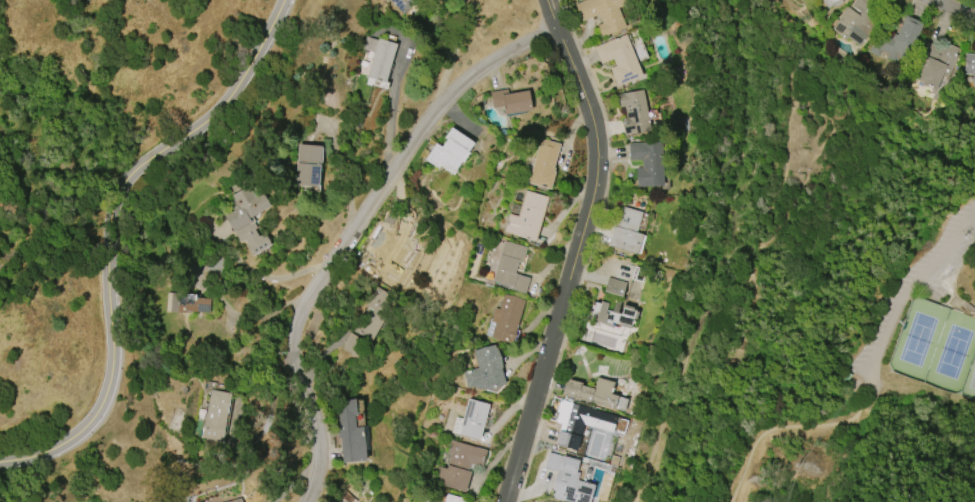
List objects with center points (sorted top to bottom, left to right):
building: (831, 2)
building: (403, 4)
road: (954, 8)
building: (602, 13)
road: (551, 16)
building: (857, 21)
building: (897, 39)
road: (452, 51)
building: (380, 56)
building: (618, 59)
building: (936, 63)
building: (970, 65)
building: (511, 101)
road: (389, 112)
building: (634, 112)
building: (448, 151)
building: (647, 163)
building: (544, 164)
building: (308, 165)
building: (527, 216)
building: (247, 218)
building: (627, 230)
road: (354, 232)
road: (112, 235)
building: (510, 267)
road: (570, 267)
road: (269, 276)
road: (909, 282)
building: (615, 286)
building: (188, 303)
road: (267, 306)
building: (613, 314)
building: (505, 318)
building: (367, 324)
building: (485, 371)
building: (594, 393)
road: (667, 409)
building: (216, 415)
building: (473, 418)
building: (579, 422)
road: (794, 427)
building: (350, 433)
building: (460, 465)
road: (897, 472)
building: (567, 479)
building: (346, 497)
building: (453, 498)
building: (426, 500)
building: (237, 501)

